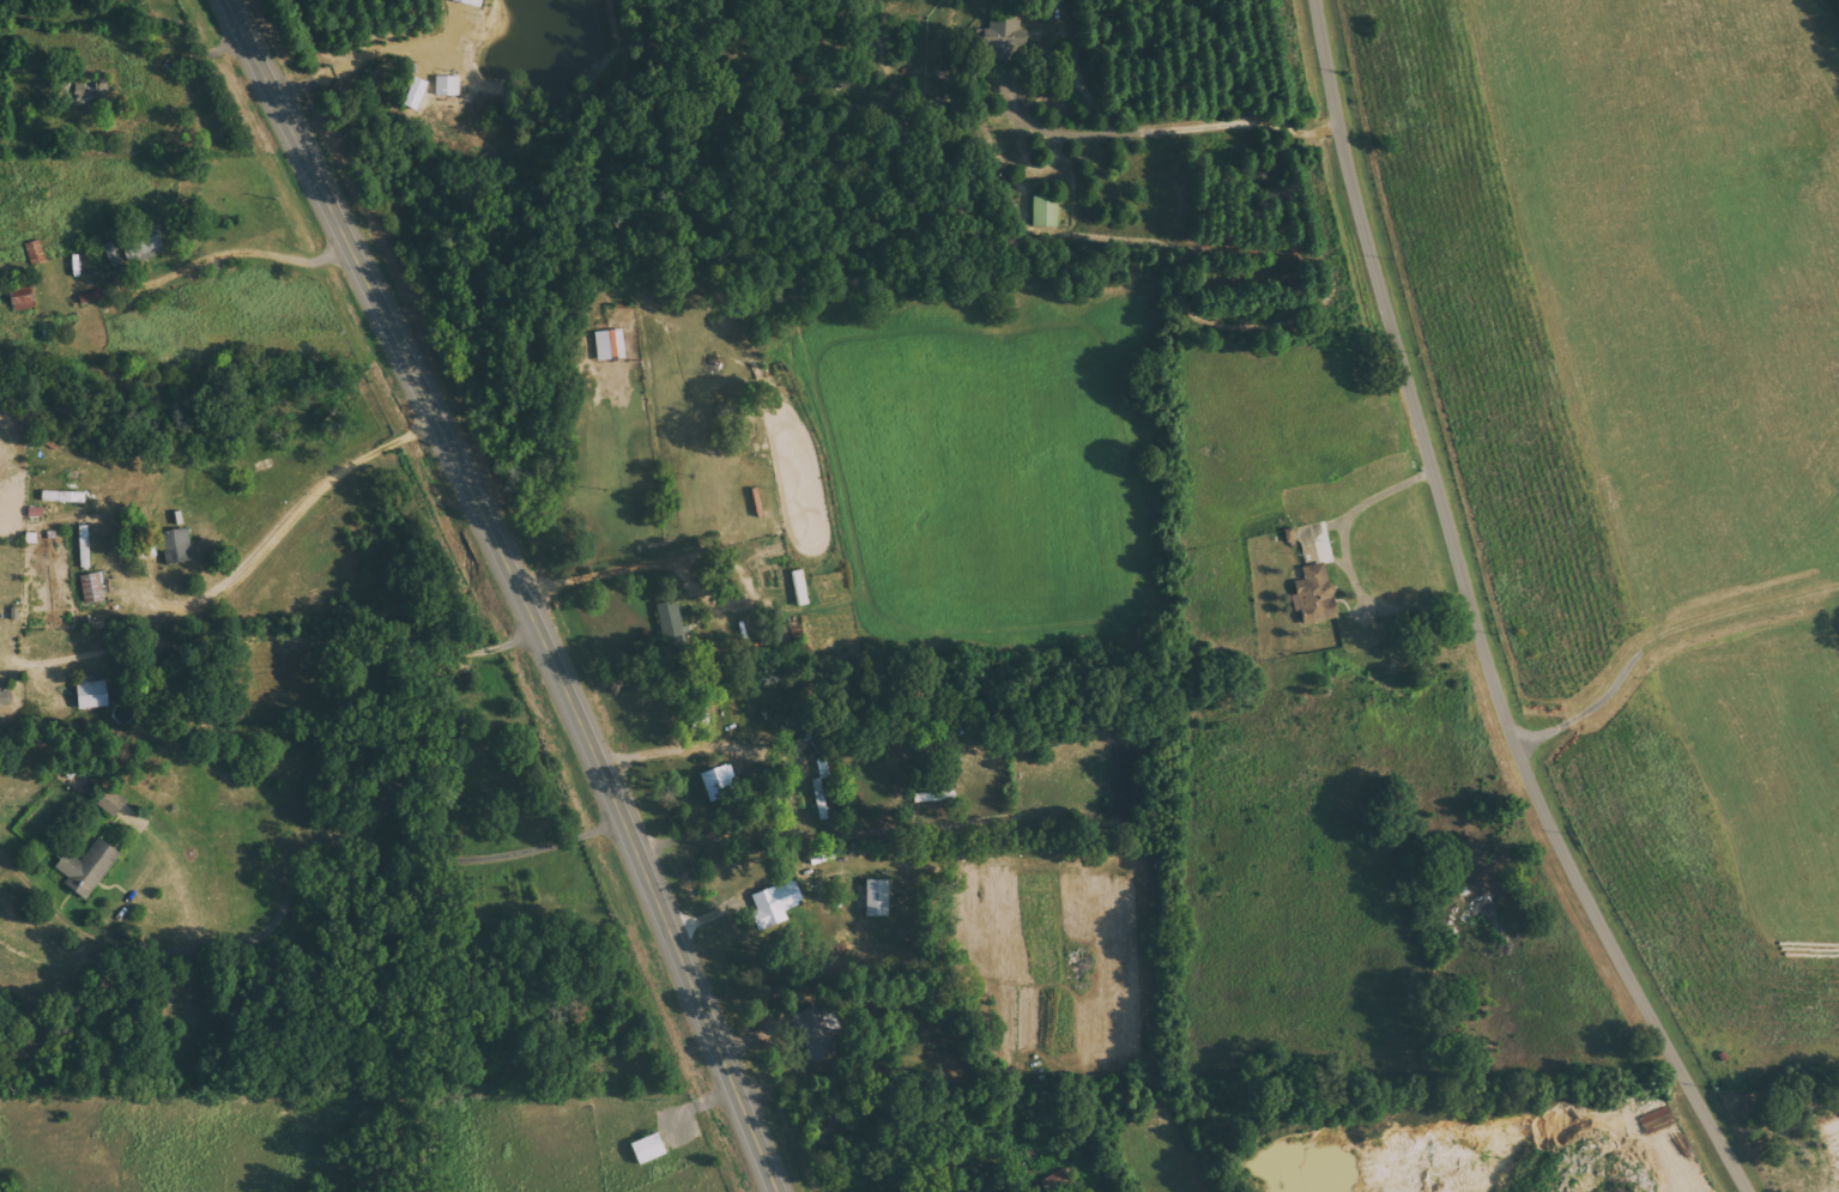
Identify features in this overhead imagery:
building: (473, 2)
building: (1004, 41)
building: (449, 86)
building: (1048, 212)
building: (115, 254)
building: (24, 296)
building: (92, 298)
building: (611, 346)
building: (66, 496)
building: (86, 546)
building: (179, 546)
building: (797, 588)
road: (518, 589)
building: (1312, 595)
road: (1472, 617)
building: (95, 692)
building: (6, 698)
building: (715, 782)
building: (819, 793)
building: (114, 803)
building: (90, 867)
building: (872, 898)
building: (643, 1150)

